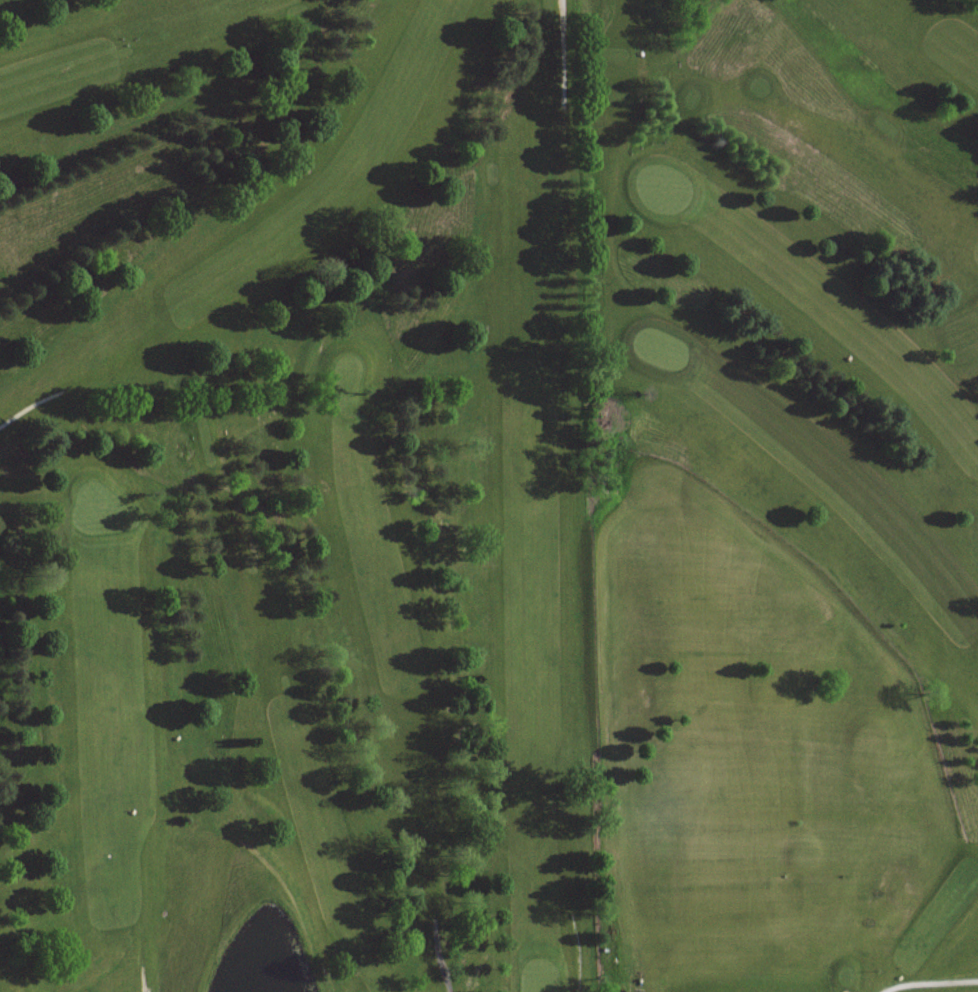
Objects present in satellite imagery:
park: (296, 499)

